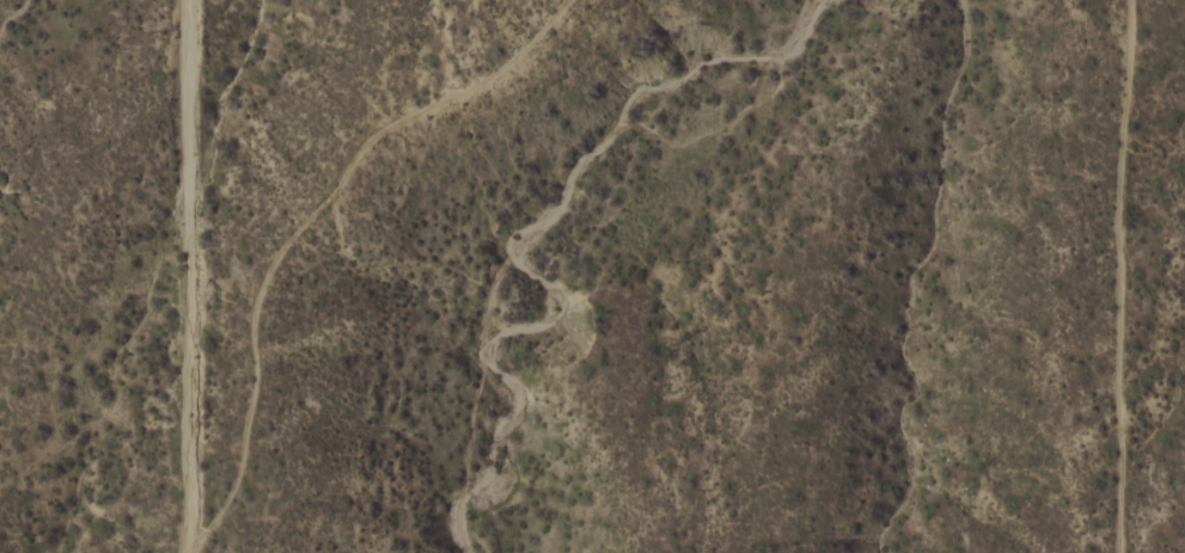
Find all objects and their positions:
road: (193, 277)

